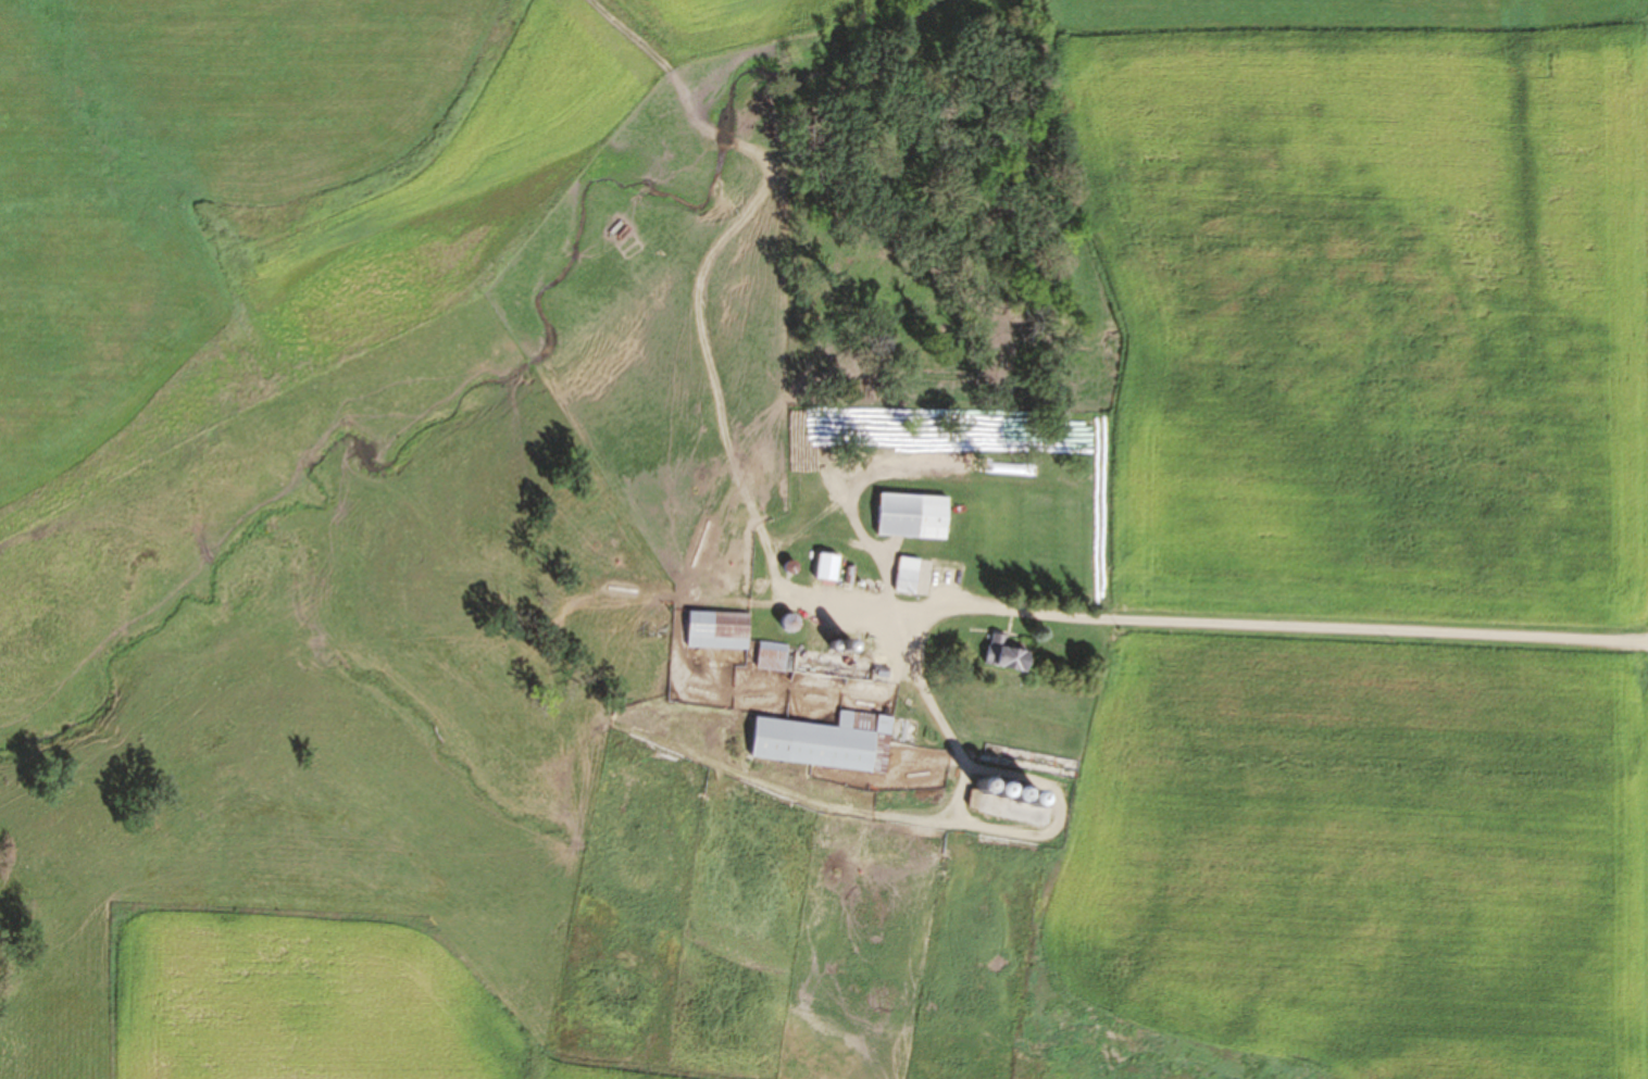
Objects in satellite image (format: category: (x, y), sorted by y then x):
building: (906, 516)
building: (821, 568)
building: (902, 576)
road: (1202, 625)
building: (711, 631)
building: (999, 657)
building: (767, 658)
building: (906, 735)
building: (817, 744)

